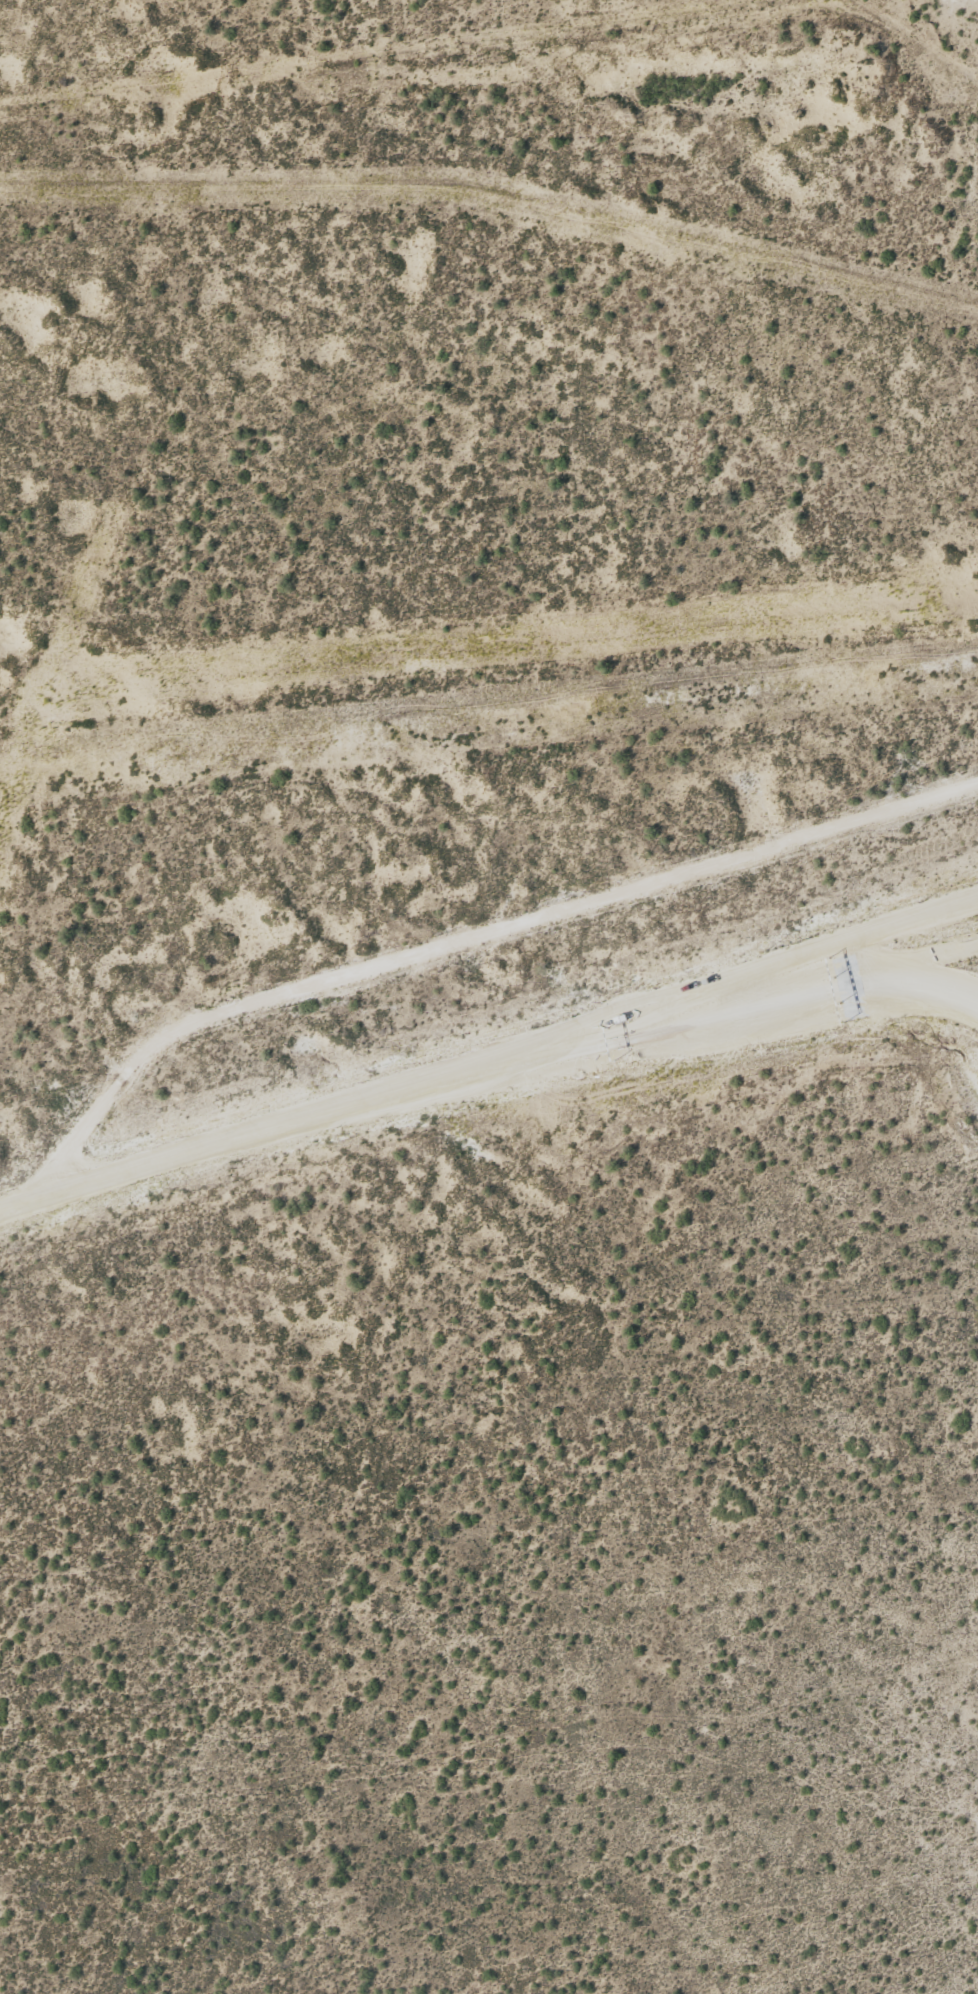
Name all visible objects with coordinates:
quarry: (956, 938)
road: (464, 965)

